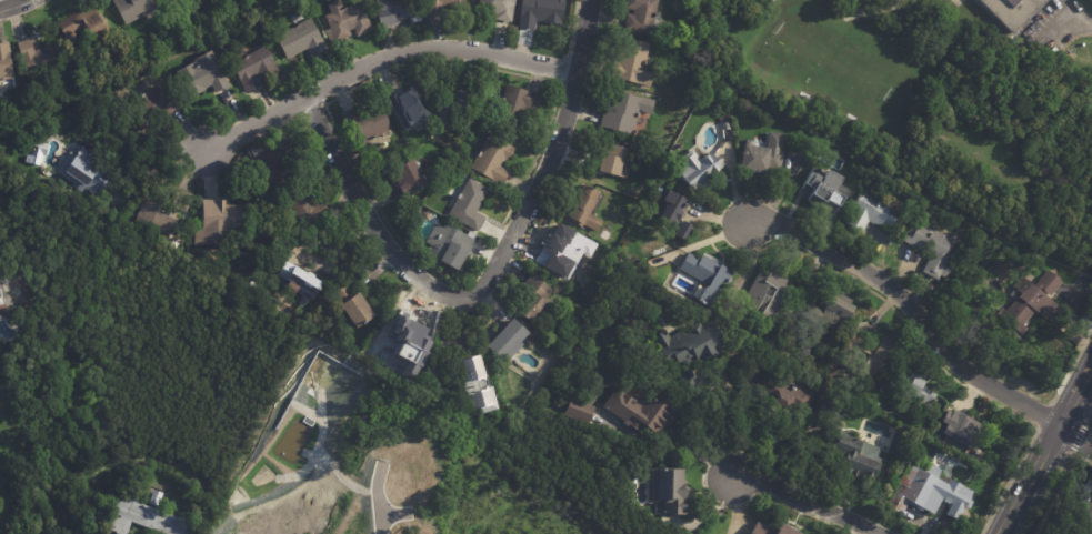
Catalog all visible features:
building: (170, 0)
building: (1091, 0)
road: (8, 2)
building: (206, 2)
building: (444, 7)
building: (134, 9)
building: (499, 9)
building: (397, 10)
building: (1013, 11)
building: (543, 12)
building: (642, 17)
road: (1078, 18)
building: (348, 20)
building: (84, 22)
building: (303, 38)
building: (39, 60)
building: (6, 62)
building: (635, 63)
road: (389, 68)
building: (256, 69)
building: (202, 78)
building: (153, 105)
building: (453, 105)
building: (517, 105)
building: (411, 110)
building: (627, 111)
building: (369, 123)
building: (728, 127)
building: (765, 155)
building: (494, 160)
building: (617, 161)
building: (272, 162)
road: (156, 168)
building: (698, 169)
building: (87, 171)
building: (410, 180)
building: (826, 188)
building: (186, 200)
building: (470, 204)
building: (307, 208)
building: (674, 209)
building: (587, 210)
building: (873, 212)
building: (158, 218)
building: (222, 224)
building: (688, 231)
building: (451, 246)
building: (933, 249)
building: (565, 256)
road: (490, 274)
building: (709, 278)
building: (302, 279)
building: (257, 289)
building: (0, 290)
building: (769, 295)
building: (538, 298)
building: (1, 301)
building: (1033, 302)
road: (909, 305)
building: (357, 306)
building: (835, 311)
building: (417, 340)
building: (510, 342)
building: (693, 346)
building: (872, 355)
building: (478, 384)
building: (922, 390)
building: (784, 395)
building: (650, 407)
building: (581, 411)
building: (966, 431)
road: (1074, 433)
road: (1044, 446)
building: (854, 457)
building: (670, 491)
building: (934, 494)
road: (803, 497)
building: (157, 500)
building: (1088, 504)
road: (379, 508)
building: (144, 520)
building: (774, 530)
building: (1083, 531)

